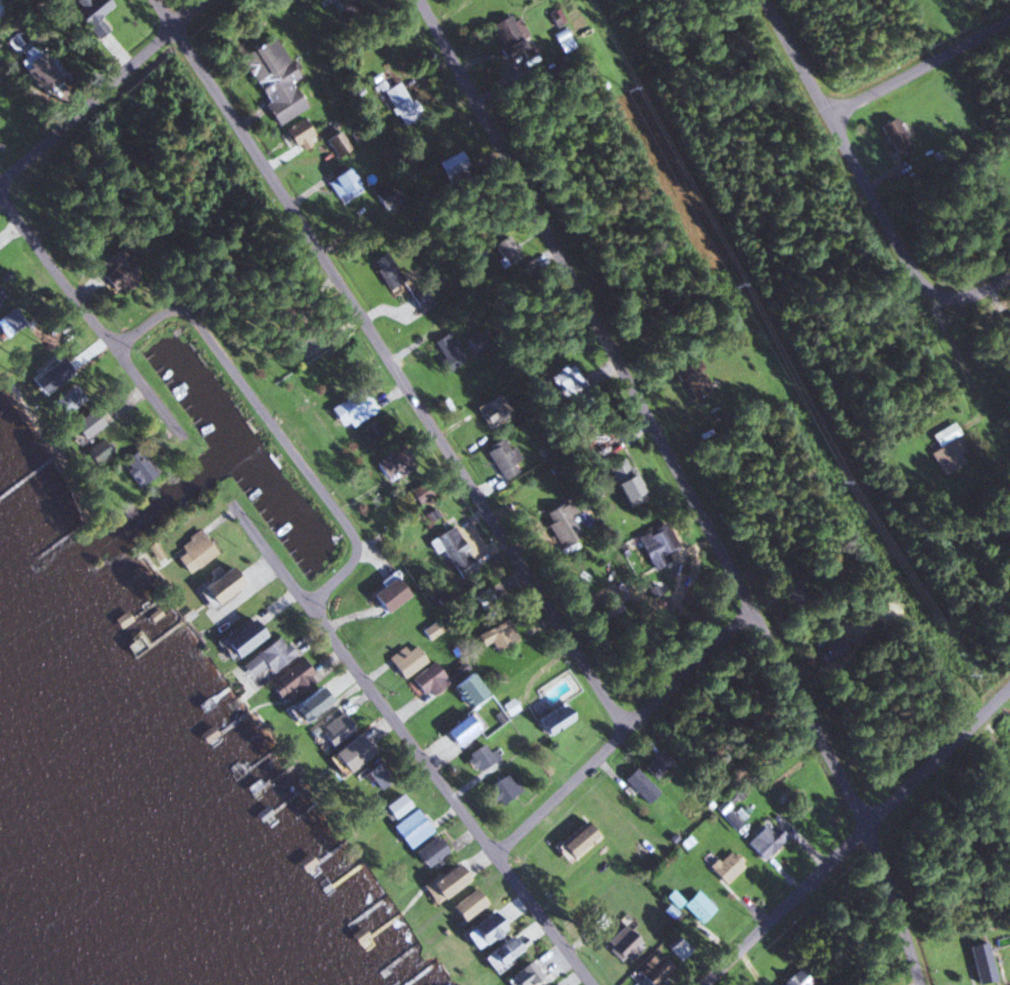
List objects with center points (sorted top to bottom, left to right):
building: (346, 8)
building: (90, 16)
building: (508, 34)
road: (916, 61)
building: (35, 70)
building: (272, 79)
power tower: (626, 92)
road: (105, 95)
building: (398, 102)
building: (298, 135)
building: (891, 135)
building: (334, 140)
building: (340, 180)
road: (0, 189)
building: (380, 193)
road: (891, 227)
building: (505, 249)
building: (385, 270)
building: (118, 271)
power tower: (732, 288)
road: (978, 297)
building: (420, 299)
road: (112, 309)
building: (307, 344)
road: (230, 362)
road: (375, 366)
building: (691, 378)
building: (564, 381)
road: (140, 385)
building: (353, 406)
building: (488, 409)
building: (81, 424)
road: (316, 425)
building: (947, 448)
building: (501, 458)
building: (390, 461)
building: (136, 467)
building: (622, 481)
power tower: (835, 484)
road: (666, 489)
road: (127, 496)
building: (558, 523)
building: (655, 545)
building: (191, 551)
building: (452, 551)
road: (294, 569)
road: (190, 570)
building: (215, 586)
building: (386, 594)
building: (483, 599)
road: (736, 621)
building: (494, 634)
building: (236, 638)
road: (746, 638)
building: (829, 649)
building: (268, 656)
building: (403, 660)
building: (290, 678)
power tower: (954, 679)
building: (448, 682)
building: (304, 704)
building: (551, 721)
building: (333, 729)
building: (457, 729)
road: (606, 732)
building: (347, 752)
building: (479, 756)
building: (657, 764)
building: (638, 785)
building: (501, 788)
building: (391, 805)
road: (462, 807)
building: (409, 828)
building: (575, 839)
building: (764, 839)
road: (871, 850)
building: (427, 851)
building: (723, 866)
building: (442, 882)
building: (464, 903)
building: (695, 906)
building: (479, 929)
building: (620, 943)
building: (678, 948)
building: (498, 952)
building: (991, 965)
building: (652, 969)
building: (518, 974)
building: (795, 978)

